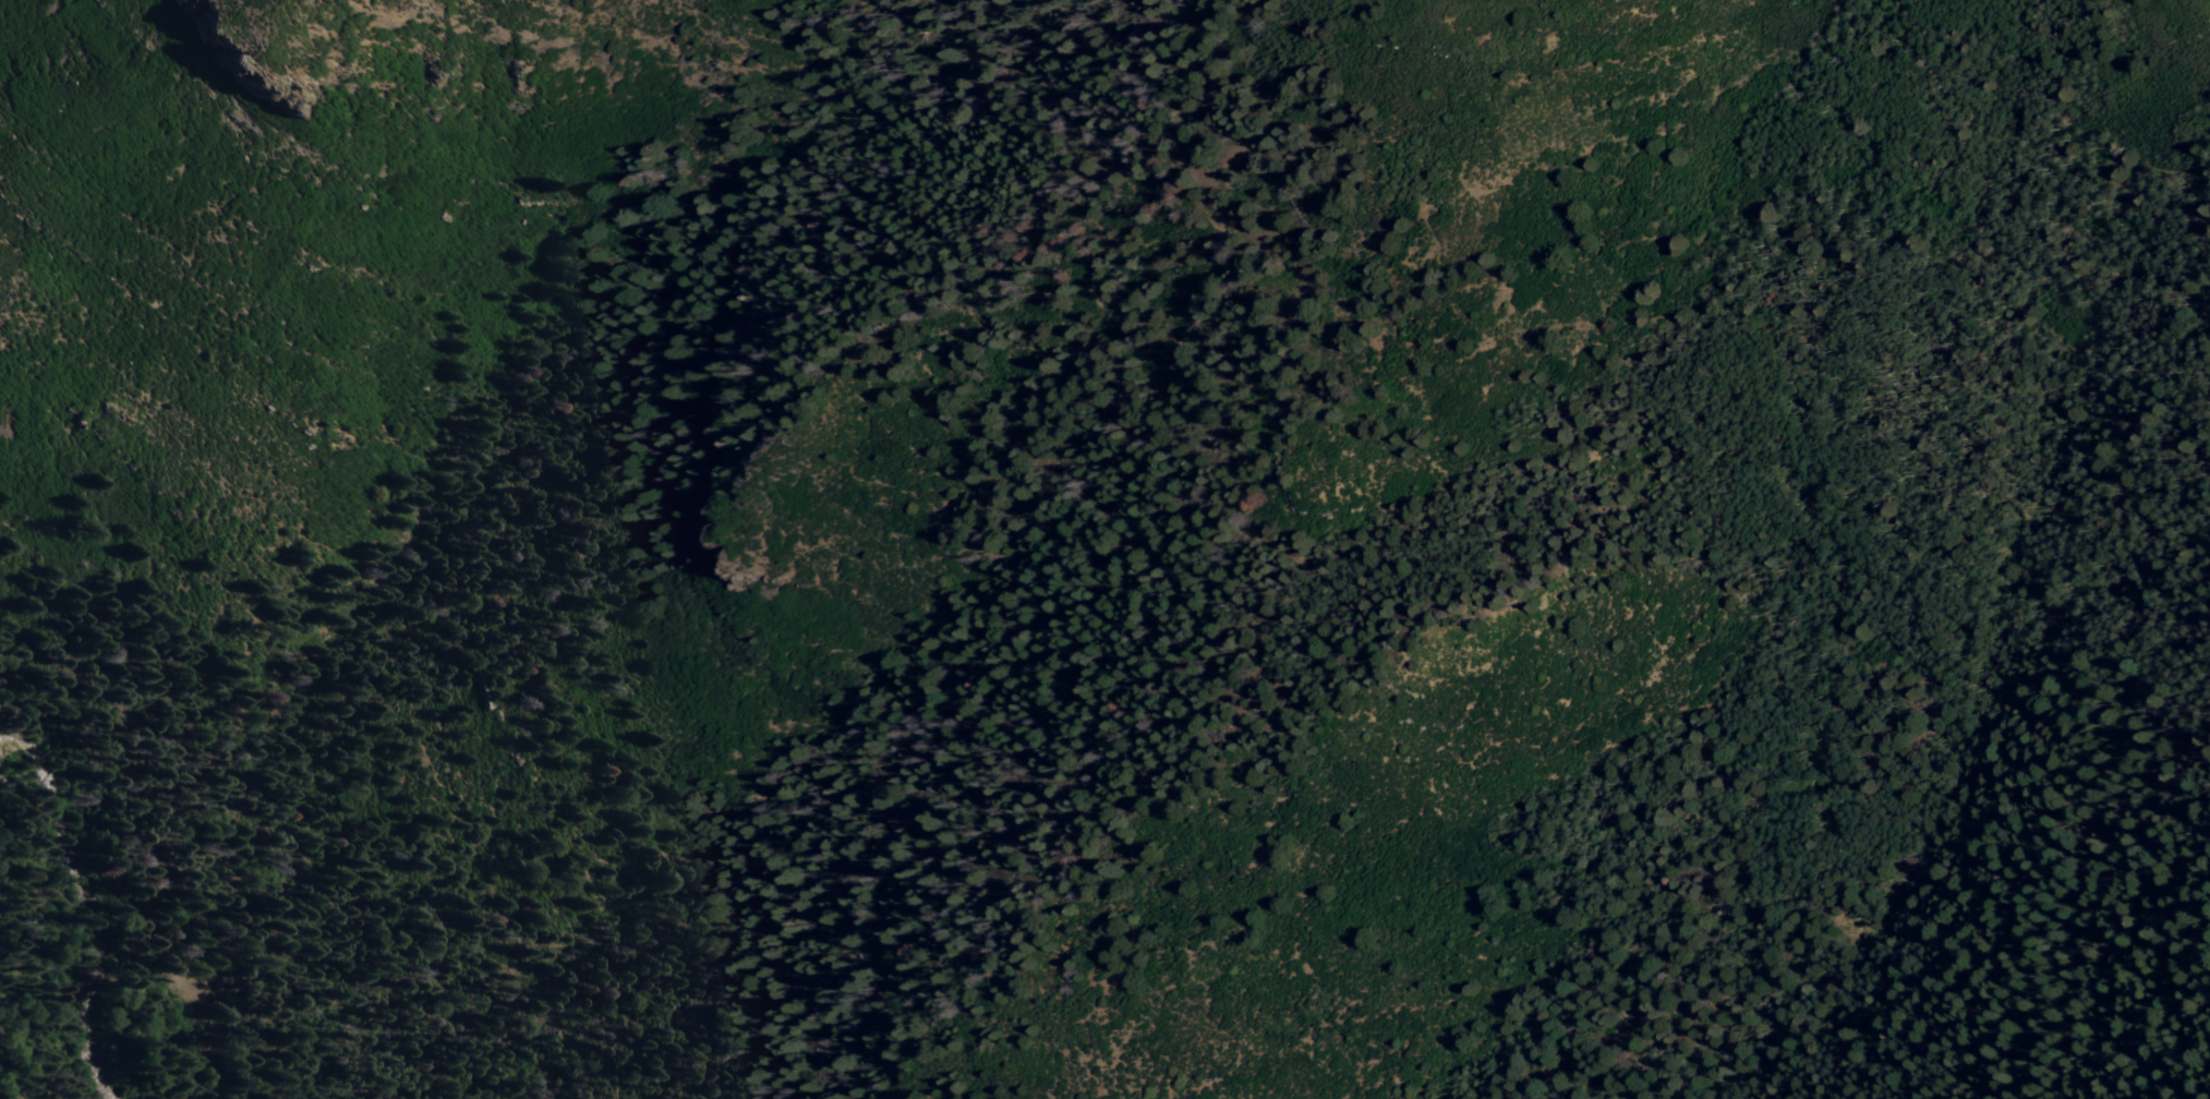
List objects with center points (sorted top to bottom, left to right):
river: (80, 928)

